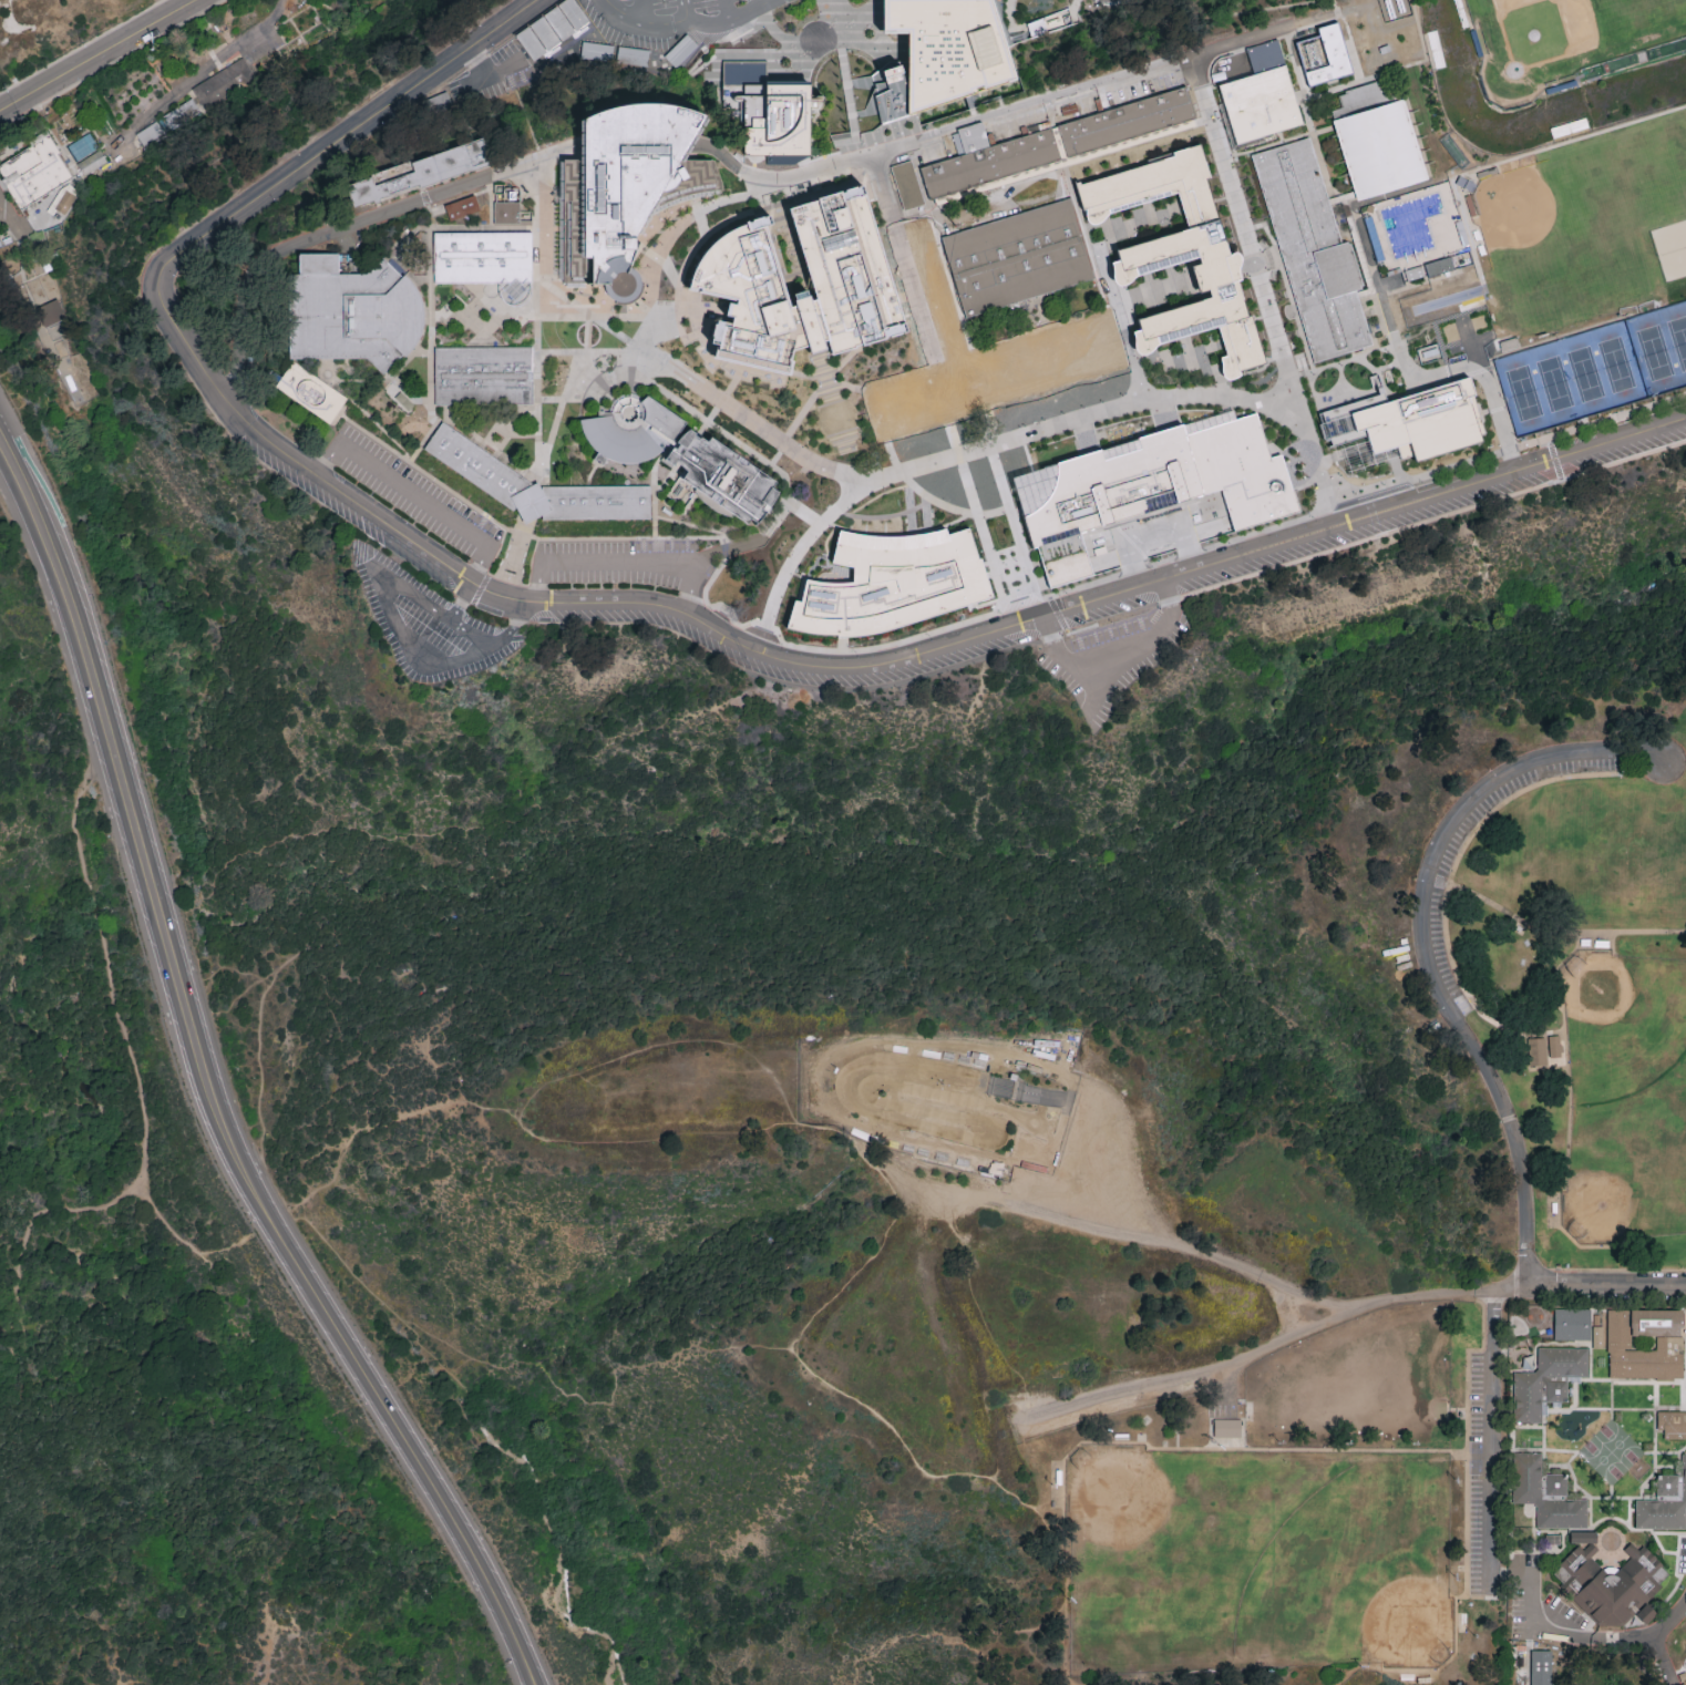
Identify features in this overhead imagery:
parking lot: (1108, 0)
road: (764, 1)
road: (1109, 1)
road: (686, 10)
road: (726, 10)
road: (641, 11)
road: (623, 12)
road: (1011, 14)
parking lot: (671, 19)
road: (709, 22)
road: (837, 23)
building: (1048, 23)
park: (1562, 39)
road: (82, 47)
building: (950, 48)
building: (1325, 53)
road: (97, 54)
road: (842, 54)
building: (1266, 54)
road: (843, 62)
road: (112, 63)
road: (1174, 65)
road: (845, 71)
road: (199, 73)
road: (489, 73)
road: (846, 83)
building: (216, 95)
building: (1260, 103)
road: (851, 104)
building: (768, 110)
road: (852, 114)
road: (855, 134)
building: (153, 138)
building: (1051, 141)
road: (859, 151)
building: (89, 157)
road: (1068, 161)
building: (421, 169)
building: (38, 175)
road: (783, 178)
road: (788, 183)
building: (906, 184)
building: (625, 187)
road: (778, 189)
building: (1397, 191)
road: (792, 201)
building: (68, 206)
building: (508, 206)
building: (463, 207)
road: (764, 208)
road: (1, 210)
road: (698, 215)
building: (917, 224)
road: (721, 227)
park: (1584, 227)
road: (680, 228)
road: (338, 229)
building: (1313, 249)
building: (1181, 255)
building: (483, 256)
building: (1017, 256)
road: (664, 260)
building: (737, 279)
road: (1103, 280)
road: (430, 289)
building: (936, 294)
road: (702, 308)
building: (352, 310)
building: (50, 311)
road: (589, 311)
road: (607, 315)
road: (484, 318)
road: (537, 319)
road: (644, 332)
road: (609, 351)
building: (1050, 357)
road: (973, 366)
park: (1595, 368)
road: (830, 370)
road: (1448, 371)
building: (484, 374)
road: (393, 376)
road: (607, 377)
road: (568, 389)
road: (1278, 392)
road: (1494, 392)
building: (313, 394)
building: (921, 397)
road: (720, 398)
road: (551, 399)
building: (1042, 400)
road: (834, 402)
building: (1071, 420)
building: (1411, 420)
road: (377, 423)
road: (715, 424)
road: (874, 424)
road: (512, 432)
road: (489, 445)
building: (681, 454)
road: (963, 454)
road: (411, 459)
building: (479, 466)
road: (590, 472)
road: (655, 480)
parking lot: (304, 483)
building: (1152, 484)
road: (852, 487)
road: (412, 493)
parking lot: (415, 493)
road: (530, 495)
road: (537, 501)
building: (596, 503)
road: (1335, 503)
building: (532, 504)
road: (911, 507)
road: (800, 510)
road: (974, 511)
road: (926, 512)
road: (882, 515)
road: (1428, 521)
road: (525, 523)
road: (690, 524)
road: (655, 527)
parking lot: (372, 530)
road: (515, 530)
road: (655, 534)
road: (812, 537)
road: (517, 545)
road: (513, 561)
parking lot: (624, 563)
road: (623, 564)
parking lot: (422, 565)
building: (896, 577)
road: (507, 579)
road: (480, 587)
road: (461, 598)
road: (639, 602)
parking lot: (489, 608)
parking lot: (1108, 609)
road: (731, 615)
parking lot: (425, 620)
road: (510, 626)
road: (402, 633)
parking lot: (698, 635)
road: (894, 646)
parking lot: (946, 660)
parking lot: (1111, 661)
road: (1110, 682)
road: (1571, 777)
parking lot: (1432, 881)
road: (1562, 933)
road: (1446, 938)
road: (1429, 945)
building: (1554, 1045)
building: (1538, 1050)
road: (132, 1068)
road: (206, 1089)
park: (1623, 1095)
track: (956, 1111)
road: (1569, 1111)
park: (1268, 1229)
road: (1185, 1247)
road: (1608, 1287)
park: (166, 1304)
building: (1573, 1324)
building: (1598, 1330)
road: (967, 1335)
building: (1645, 1344)
road: (1261, 1352)
building: (1548, 1380)
road: (835, 1384)
road: (1494, 1424)
building: (1672, 1424)
building: (1226, 1429)
road: (1230, 1450)
parking lot: (1487, 1473)
building: (1546, 1492)
building: (1665, 1502)
road: (1467, 1511)
park: (1260, 1559)
building: (1610, 1580)
road: (1066, 1609)
building: (1647, 1612)
road: (1545, 1631)
road: (1531, 1632)
road: (1658, 1632)
road: (1001, 1644)
road: (1357, 1665)
building: (1541, 1666)

